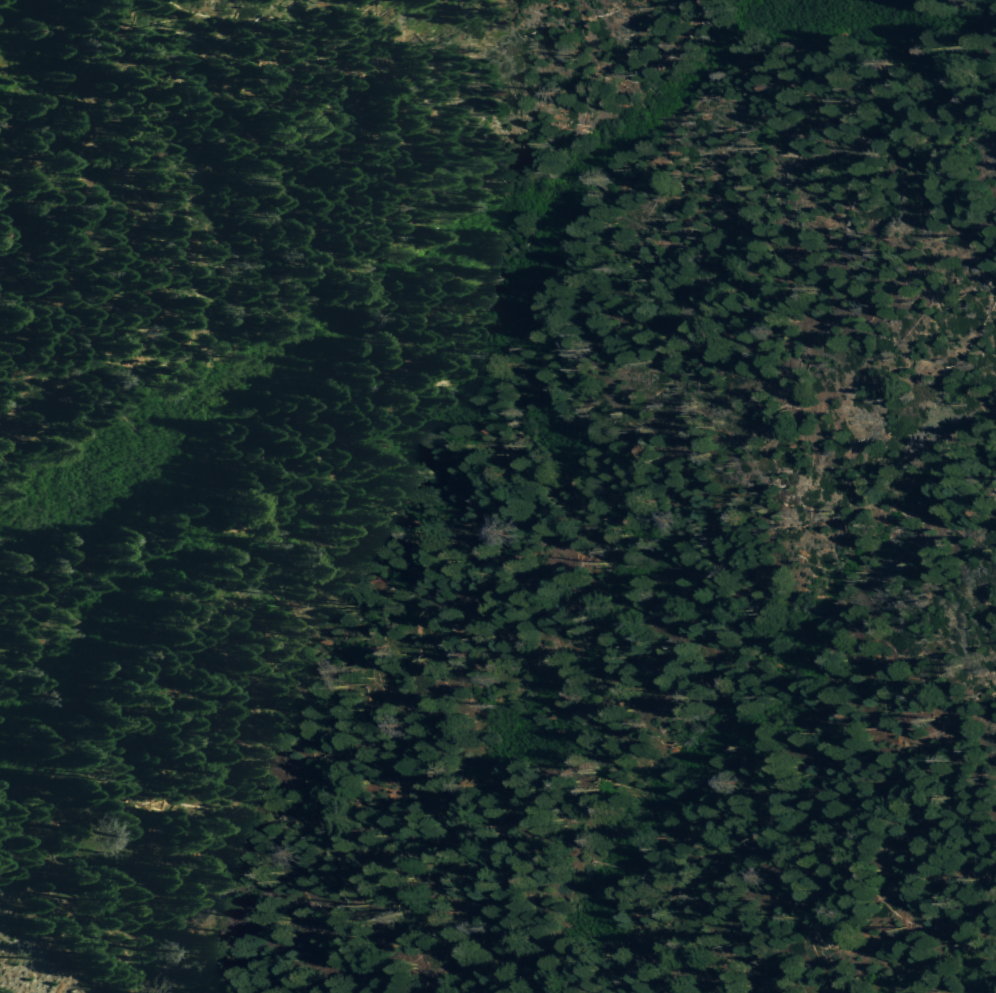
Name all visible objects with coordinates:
road: (984, 9)

